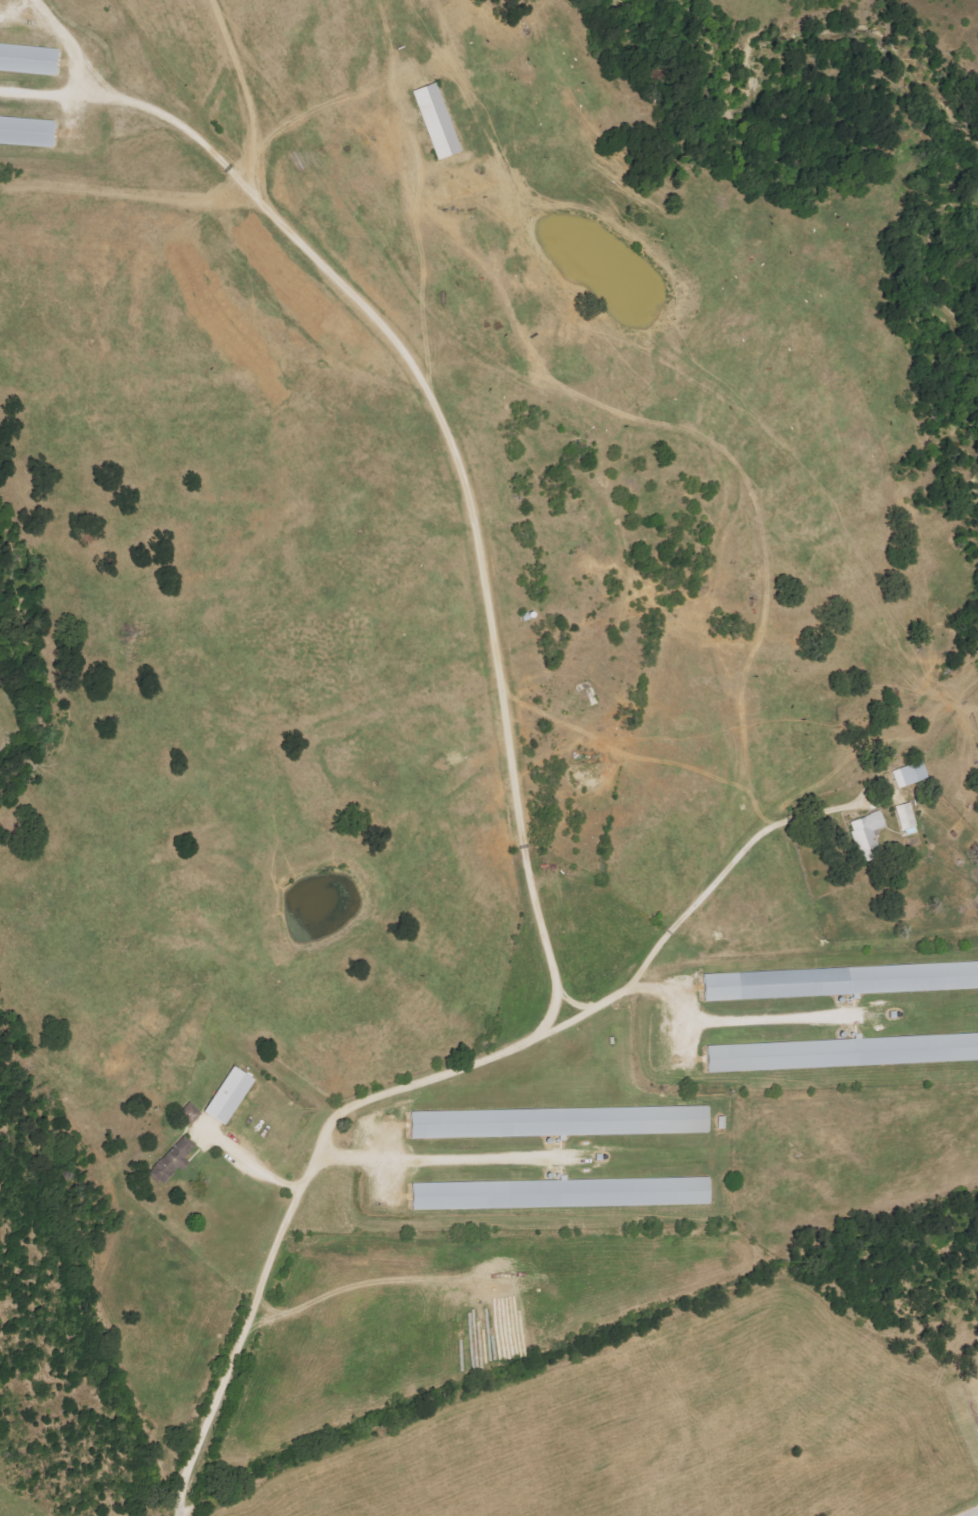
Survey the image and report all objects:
building: (28, 56)
building: (435, 119)
building: (26, 128)
road: (436, 415)
building: (910, 774)
building: (904, 816)
building: (867, 835)
building: (836, 981)
road: (556, 991)
building: (844, 1052)
road: (418, 1084)
building: (226, 1095)
building: (558, 1121)
building: (172, 1159)
road: (254, 1168)
building: (560, 1193)
road: (975, 1513)

